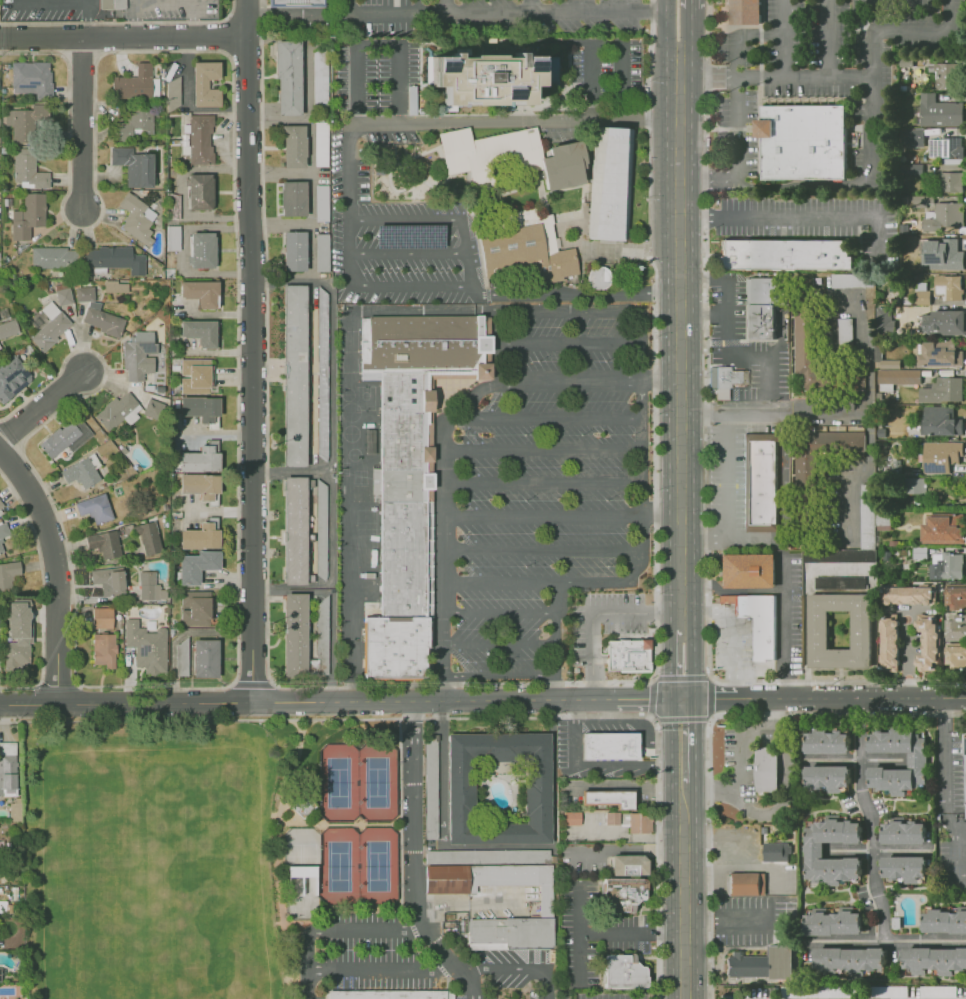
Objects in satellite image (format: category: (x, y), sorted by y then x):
road: (67, 1)
building: (295, 3)
road: (689, 3)
building: (111, 4)
road: (162, 4)
road: (444, 6)
road: (532, 6)
road: (346, 7)
building: (742, 12)
road: (456, 13)
road: (248, 19)
road: (665, 31)
road: (689, 35)
road: (124, 38)
road: (785, 38)
road: (827, 38)
road: (378, 44)
road: (605, 44)
road: (740, 57)
building: (945, 75)
building: (320, 76)
road: (708, 77)
road: (804, 77)
building: (31, 78)
building: (289, 78)
building: (486, 78)
road: (307, 81)
building: (135, 83)
building: (204, 83)
building: (172, 93)
building: (940, 111)
road: (517, 120)
building: (24, 121)
road: (81, 123)
building: (134, 124)
building: (912, 137)
building: (197, 138)
building: (321, 143)
building: (801, 144)
building: (295, 145)
building: (944, 150)
building: (512, 157)
building: (133, 165)
building: (27, 169)
building: (910, 170)
road: (870, 171)
road: (309, 174)
road: (709, 176)
building: (609, 185)
building: (952, 185)
building: (199, 191)
building: (293, 197)
road: (348, 200)
building: (322, 203)
building: (939, 212)
building: (27, 215)
road: (797, 216)
building: (136, 218)
road: (405, 220)
road: (307, 225)
building: (409, 236)
building: (172, 237)
building: (201, 249)
building: (522, 249)
building: (294, 250)
building: (323, 252)
road: (407, 252)
road: (466, 252)
building: (951, 252)
building: (784, 254)
building: (53, 257)
building: (113, 258)
building: (920, 266)
building: (598, 277)
road: (309, 279)
building: (851, 280)
building: (115, 286)
building: (949, 288)
building: (199, 291)
building: (759, 291)
building: (83, 292)
road: (511, 294)
building: (62, 295)
building: (922, 298)
building: (907, 302)
road: (618, 311)
road: (702, 314)
building: (102, 319)
building: (883, 319)
building: (758, 321)
building: (944, 322)
building: (49, 326)
building: (7, 328)
building: (200, 331)
building: (844, 333)
road: (726, 341)
road: (566, 342)
road: (679, 344)
building: (805, 346)
road: (869, 352)
building: (941, 353)
building: (137, 355)
road: (252, 371)
road: (493, 371)
building: (894, 371)
building: (324, 373)
building: (195, 375)
building: (295, 375)
building: (12, 377)
building: (724, 377)
building: (860, 380)
road: (566, 384)
road: (659, 384)
building: (943, 390)
park: (365, 398)
road: (41, 402)
building: (200, 408)
road: (331, 408)
building: (117, 410)
road: (774, 412)
road: (552, 419)
building: (941, 422)
road: (348, 435)
building: (65, 437)
building: (834, 441)
road: (542, 449)
building: (943, 455)
building: (200, 458)
building: (79, 472)
building: (410, 472)
building: (802, 472)
road: (856, 472)
road: (543, 482)
road: (641, 484)
building: (765, 484)
building: (200, 485)
building: (912, 485)
parking lot: (545, 489)
road: (725, 497)
building: (1, 504)
building: (868, 507)
building: (94, 508)
road: (660, 508)
road: (543, 515)
building: (886, 518)
building: (944, 528)
building: (296, 529)
building: (323, 531)
building: (199, 536)
building: (147, 537)
road: (751, 538)
building: (3, 541)
building: (103, 543)
road: (542, 549)
road: (444, 554)
building: (920, 556)
building: (196, 565)
building: (840, 566)
building: (951, 566)
building: (744, 569)
road: (55, 571)
building: (7, 573)
building: (108, 579)
road: (499, 581)
road: (608, 581)
building: (839, 582)
building: (149, 586)
building: (307, 591)
building: (909, 594)
building: (957, 598)
building: (196, 608)
road: (499, 612)
road: (596, 616)
building: (102, 618)
building: (756, 621)
road: (554, 628)
road: (783, 628)
building: (956, 628)
building: (840, 630)
building: (295, 634)
building: (17, 635)
road: (729, 635)
building: (929, 636)
building: (323, 637)
road: (498, 643)
building: (890, 643)
building: (146, 646)
building: (103, 649)
road: (906, 653)
building: (628, 655)
building: (180, 657)
building: (956, 657)
building: (204, 658)
road: (694, 663)
road: (670, 665)
road: (498, 675)
road: (652, 678)
road: (553, 689)
road: (824, 699)
traffic signals: (683, 702)
road: (341, 705)
road: (614, 715)
road: (5, 721)
road: (634, 721)
road: (683, 721)
road: (710, 730)
road: (573, 733)
building: (826, 743)
building: (609, 746)
road: (945, 750)
road: (684, 752)
road: (855, 761)
building: (917, 761)
building: (965, 762)
road: (628, 763)
road: (739, 763)
building: (8, 767)
building: (767, 768)
road: (684, 772)
building: (829, 775)
park: (374, 783)
park: (337, 784)
road: (684, 787)
building: (432, 789)
building: (460, 793)
park: (146, 799)
building: (614, 799)
building: (303, 806)
building: (15, 810)
road: (400, 811)
building: (573, 818)
building: (613, 818)
road: (870, 820)
building: (641, 824)
building: (903, 832)
road: (499, 845)
park: (300, 848)
road: (630, 850)
building: (775, 850)
road: (278, 851)
building: (815, 852)
road: (878, 853)
building: (488, 856)
road: (416, 860)
park: (375, 863)
building: (627, 864)
park: (337, 865)
park: (261, 868)
building: (906, 869)
building: (300, 871)
building: (747, 884)
building: (624, 895)
road: (684, 895)
park: (300, 896)
park: (211, 901)
building: (547, 906)
building: (944, 919)
building: (832, 921)
road: (333, 927)
road: (412, 929)
road: (609, 934)
road: (889, 942)
road: (425, 949)
parking lot: (372, 952)
road: (580, 956)
building: (934, 959)
building: (844, 960)
building: (784, 962)
park: (116, 964)
road: (440, 967)
building: (749, 967)
road: (382, 968)
road: (517, 968)
building: (624, 971)
parking lot: (503, 973)
building: (0, 975)
park: (211, 979)
road: (448, 988)
building: (883, 990)
building: (824, 991)
building: (938, 991)
parking lot: (311, 993)
building: (386, 994)
road: (519, 995)

